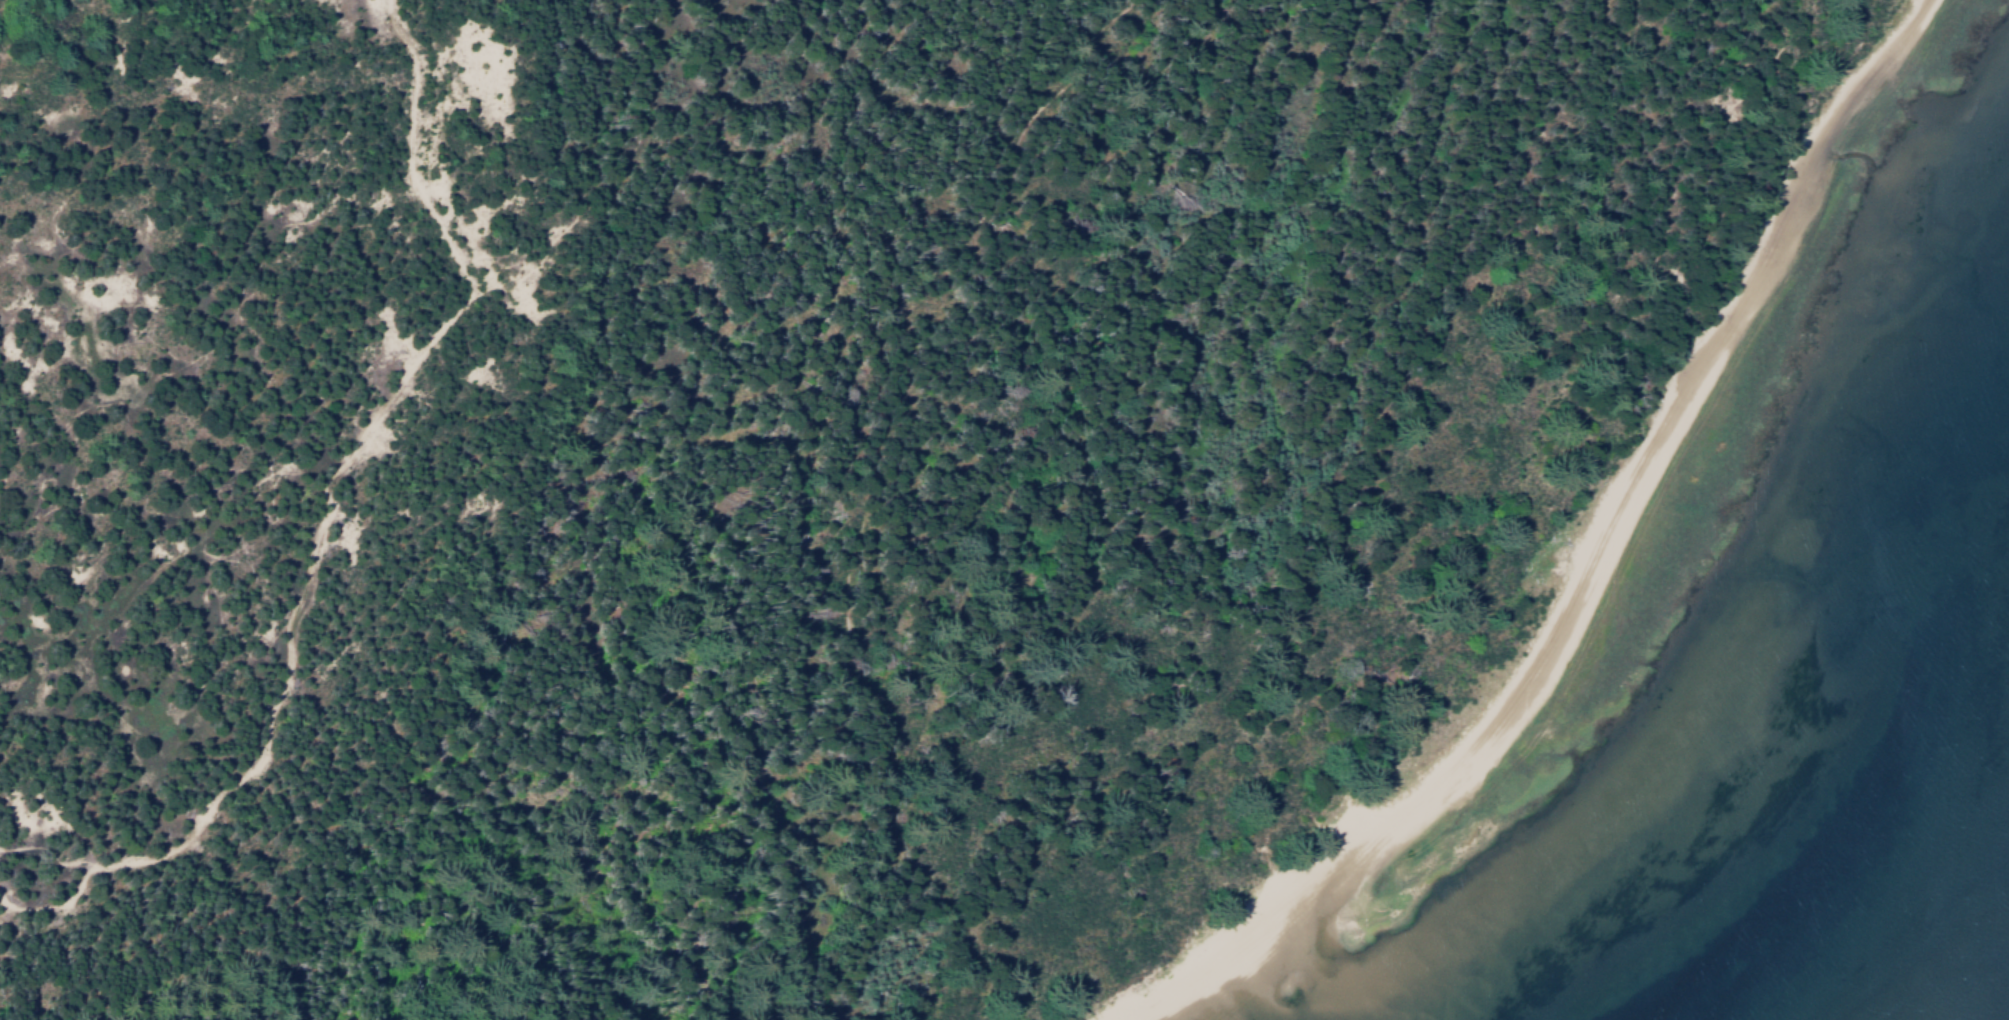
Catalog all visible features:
road: (1030, 122)
road: (328, 513)
road: (848, 516)

